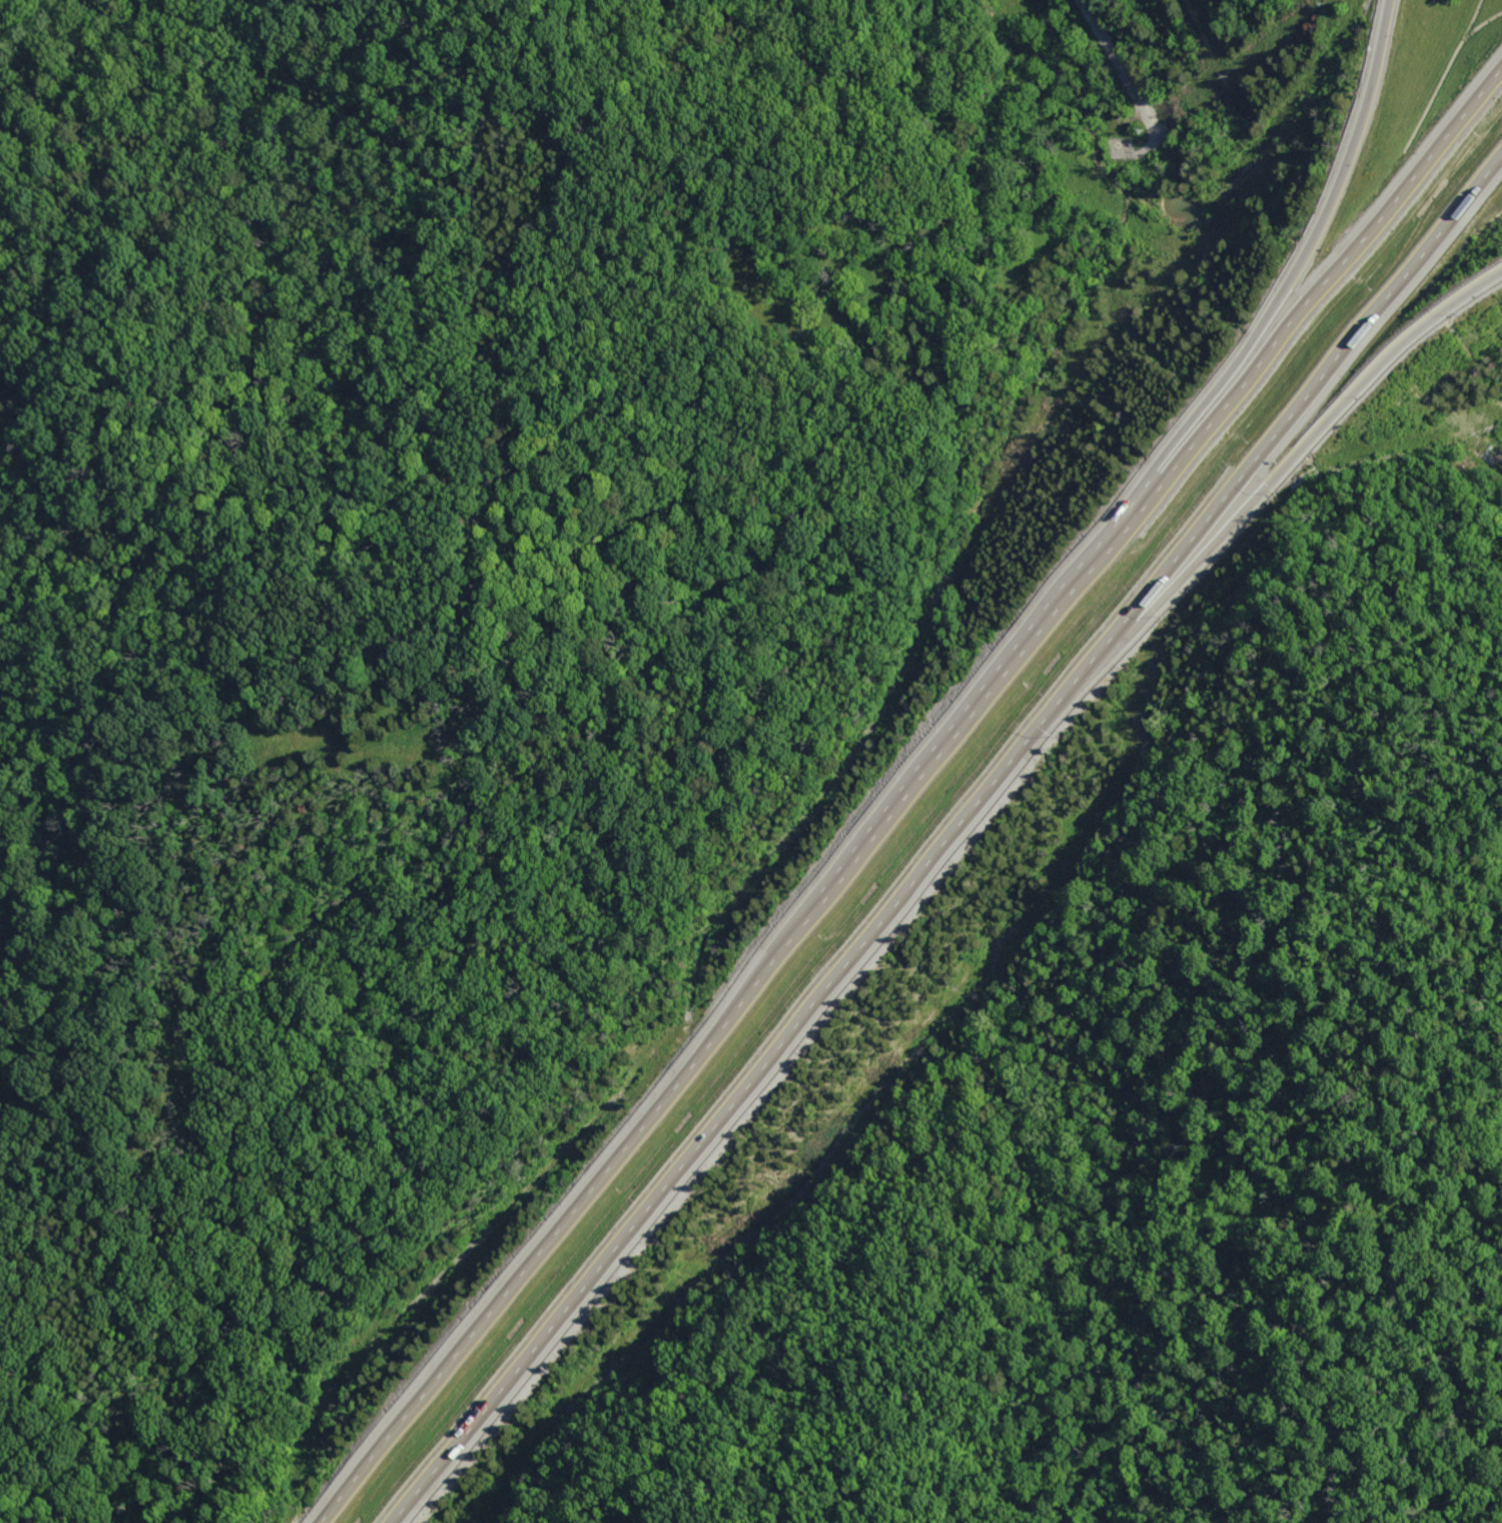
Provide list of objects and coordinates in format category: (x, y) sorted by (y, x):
road: (1103, 46)
road: (1206, 410)
road: (1501, 437)
road: (1167, 594)
road: (910, 796)
road: (950, 844)

